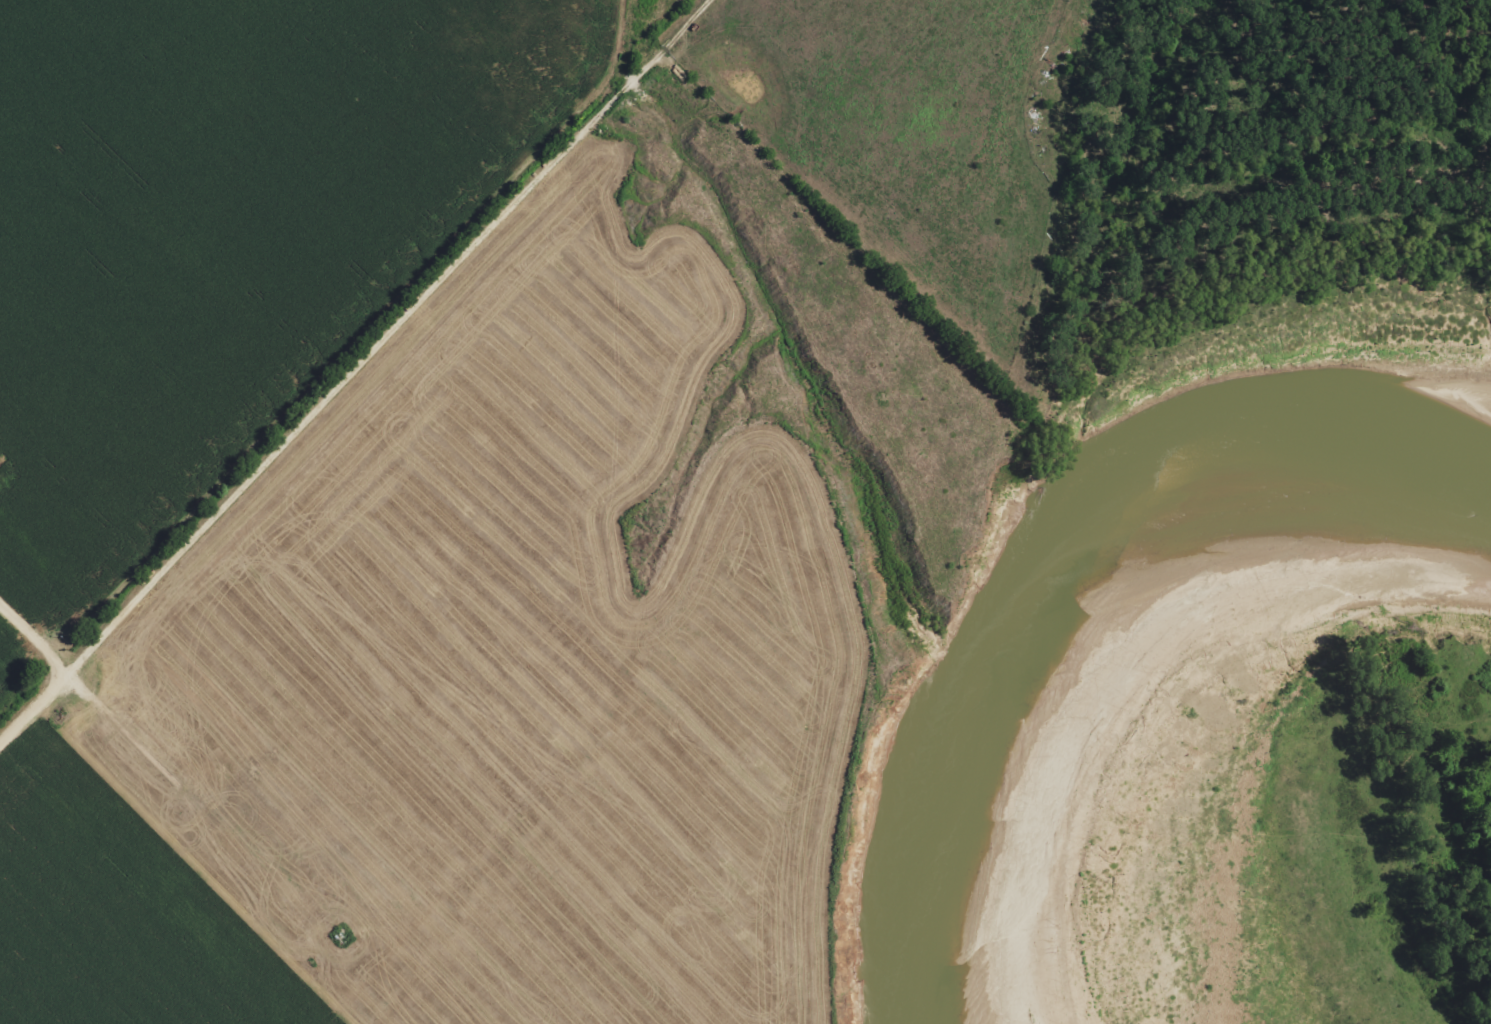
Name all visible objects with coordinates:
road: (355, 383)
river: (1101, 605)

